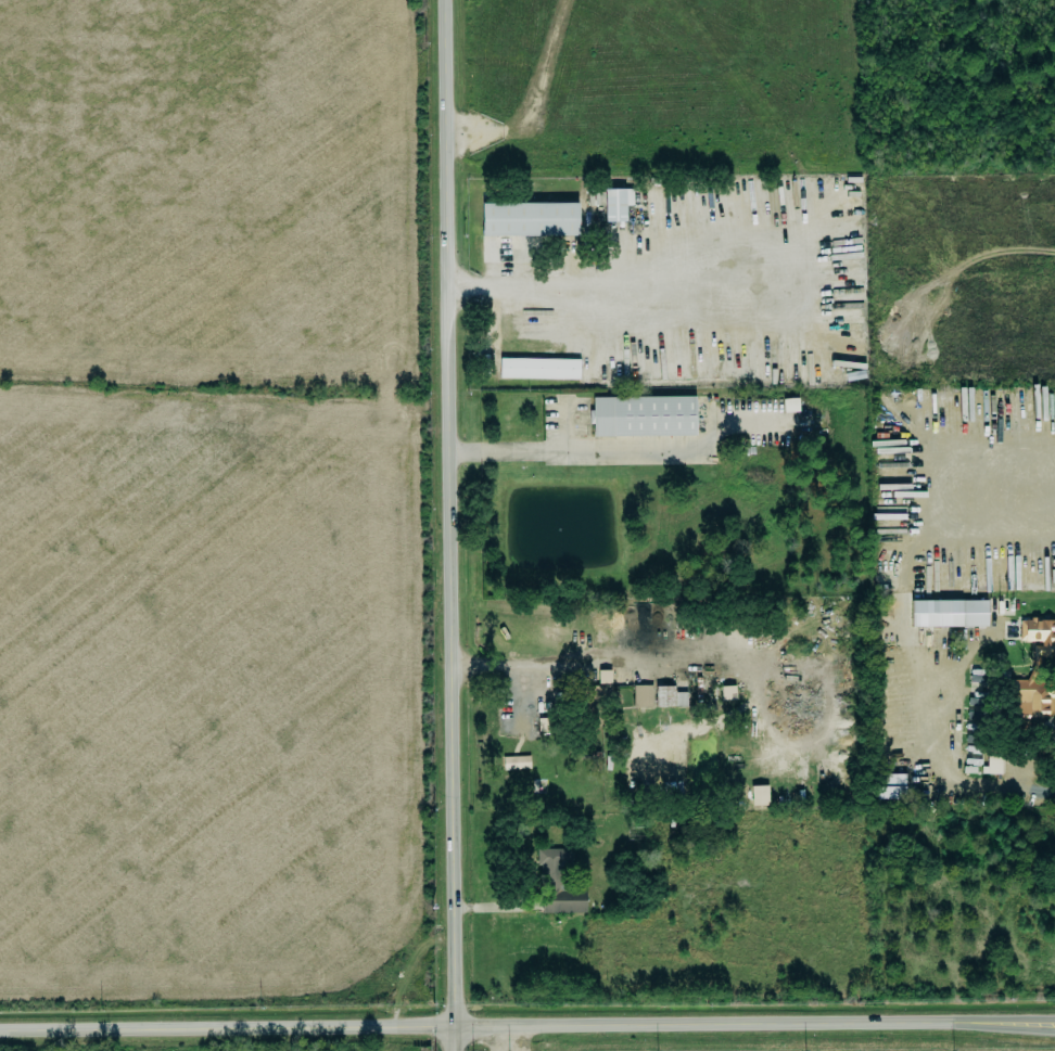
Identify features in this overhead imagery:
building: (617, 204)
building: (530, 219)
road: (600, 287)
building: (539, 369)
building: (790, 406)
building: (644, 416)
road: (577, 450)
road: (1004, 479)
road: (456, 525)
building: (949, 613)
building: (1039, 636)
road: (538, 664)
building: (605, 677)
building: (662, 694)
building: (639, 695)
building: (1030, 700)
building: (595, 703)
building: (516, 762)
building: (993, 762)
building: (891, 786)
road: (1039, 792)
building: (760, 795)
building: (558, 884)
road: (526, 1024)

